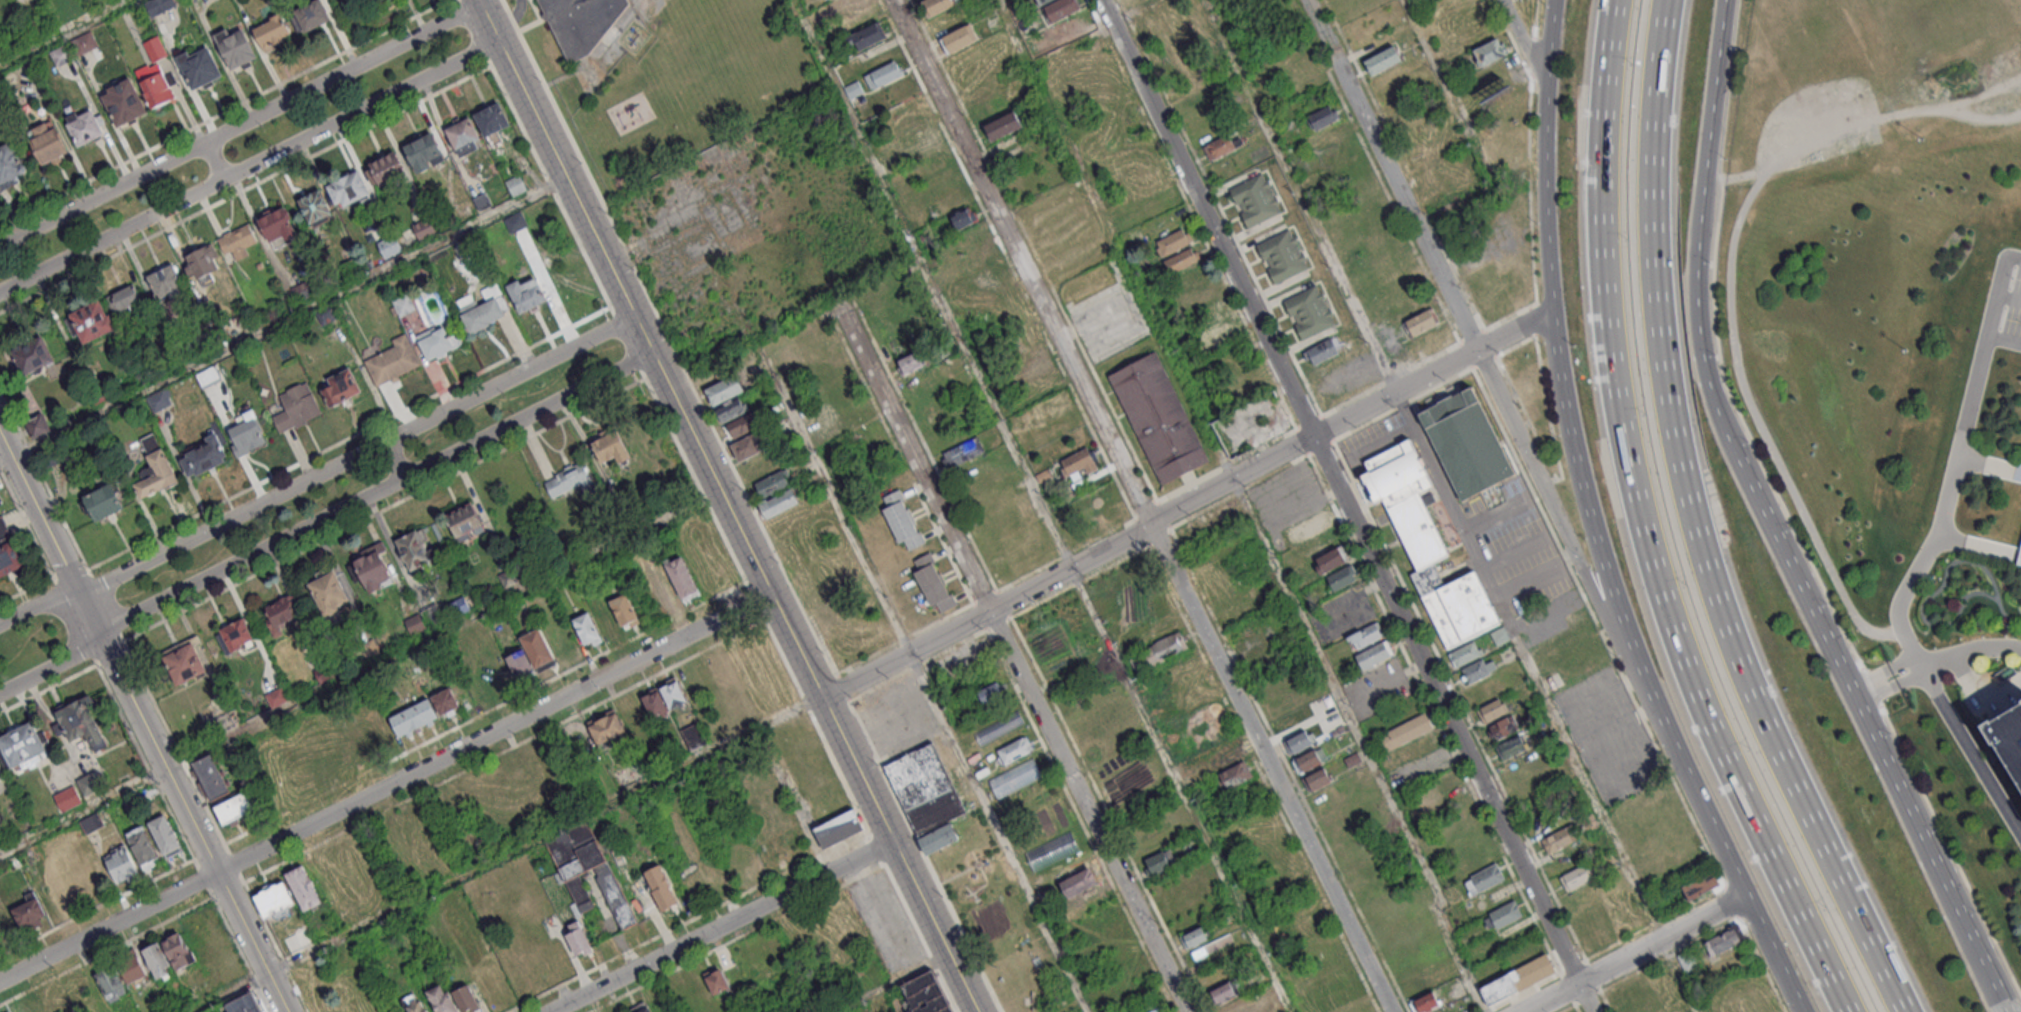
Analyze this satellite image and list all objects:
building: (1042, 1)
building: (158, 5)
building: (845, 5)
building: (937, 6)
building: (1060, 8)
building: (312, 13)
building: (583, 23)
building: (272, 30)
road: (65, 33)
building: (866, 35)
building: (958, 38)
building: (85, 40)
building: (234, 45)
road: (1523, 46)
building: (154, 48)
building: (1489, 51)
building: (1382, 60)
road: (1234, 64)
building: (198, 65)
building: (884, 74)
building: (155, 84)
building: (854, 89)
building: (123, 102)
building: (994, 108)
building: (905, 111)
building: (1321, 116)
building: (492, 118)
road: (239, 124)
building: (1002, 125)
building: (84, 127)
road: (1471, 132)
building: (463, 133)
building: (1331, 136)
road: (1829, 137)
building: (925, 144)
building: (50, 145)
building: (1223, 145)
building: (425, 151)
road: (214, 160)
building: (934, 161)
building: (9, 162)
road: (249, 165)
building: (387, 167)
building: (1439, 171)
road: (1394, 175)
building: (941, 181)
building: (515, 184)
building: (348, 188)
building: (1256, 200)
building: (482, 201)
building: (315, 206)
building: (963, 217)
building: (276, 224)
building: (425, 228)
building: (236, 239)
building: (1172, 240)
building: (390, 246)
building: (980, 255)
building: (1282, 256)
building: (1182, 259)
road: (1331, 260)
building: (204, 261)
building: (991, 273)
building: (165, 278)
building: (302, 290)
road: (2002, 293)
building: (527, 294)
building: (126, 296)
road: (2011, 297)
building: (403, 303)
parking lot: (2003, 303)
building: (326, 313)
building: (1309, 313)
building: (482, 314)
building: (91, 320)
road: (285, 321)
building: (1422, 322)
building: (1217, 337)
building: (433, 340)
road: (2006, 341)
road: (1556, 343)
building: (1323, 350)
building: (32, 355)
building: (392, 360)
building: (910, 362)
building: (1033, 367)
road: (1433, 372)
building: (208, 375)
building: (341, 386)
building: (726, 389)
road: (1713, 398)
building: (159, 399)
building: (296, 407)
building: (731, 409)
building: (1158, 417)
road: (1759, 424)
building: (742, 426)
building: (248, 432)
building: (1467, 442)
building: (750, 445)
building: (611, 447)
building: (963, 451)
building: (204, 455)
road: (398, 456)
road: (1220, 457)
building: (1082, 460)
road: (318, 473)
building: (157, 474)
building: (568, 480)
building: (771, 482)
building: (103, 500)
building: (1405, 500)
building: (777, 502)
road: (1349, 504)
road: (1042, 505)
road: (1312, 505)
road: (726, 506)
road: (1141, 507)
parking lot: (1292, 508)
road: (1554, 515)
road: (323, 517)
building: (901, 518)
building: (464, 520)
road: (1151, 521)
road: (1695, 524)
building: (1309, 525)
road: (1644, 525)
road: (1467, 531)
building: (7, 549)
building: (413, 549)
building: (2019, 556)
parking lot: (2019, 556)
building: (1331, 559)
building: (373, 570)
building: (510, 576)
building: (681, 577)
building: (1339, 578)
building: (933, 584)
building: (662, 587)
building: (328, 591)
road: (1907, 593)
road: (1357, 595)
building: (1456, 605)
building: (457, 606)
building: (1560, 606)
building: (284, 609)
building: (624, 609)
building: (829, 616)
building: (604, 618)
building: (1525, 620)
building: (414, 623)
building: (586, 627)
building: (237, 634)
building: (1364, 634)
building: (1500, 637)
building: (1168, 643)
building: (537, 647)
road: (905, 654)
building: (1375, 654)
building: (1466, 655)
road: (1012, 659)
road: (1935, 661)
building: (185, 662)
building: (520, 663)
building: (1478, 671)
building: (324, 672)
road: (360, 672)
road: (1396, 677)
road: (923, 678)
building: (991, 692)
building: (674, 694)
building: (276, 696)
building: (445, 700)
building: (654, 702)
building: (1491, 709)
road: (1433, 712)
building: (414, 716)
parking lot: (897, 718)
building: (83, 721)
road: (144, 724)
building: (1501, 726)
building: (381, 727)
building: (998, 727)
building: (607, 728)
building: (1406, 732)
building: (2008, 735)
building: (694, 736)
parking lot: (1610, 736)
building: (1297, 743)
building: (22, 744)
building: (1513, 747)
building: (1015, 749)
building: (1225, 757)
building: (318, 759)
building: (1307, 762)
building: (1236, 774)
building: (211, 777)
building: (1015, 777)
building: (820, 780)
building: (1316, 780)
building: (90, 783)
road: (1692, 786)
road: (385, 787)
building: (925, 789)
building: (142, 795)
building: (68, 798)
building: (235, 806)
road: (1602, 817)
building: (89, 823)
building: (837, 829)
building: (165, 835)
building: (939, 837)
building: (1559, 837)
building: (143, 846)
building: (575, 850)
road: (506, 854)
building: (1475, 860)
building: (1158, 862)
building: (121, 863)
building: (1575, 876)
building: (327, 877)
building: (1487, 877)
building: (1080, 880)
building: (1699, 885)
road: (1946, 886)
building: (303, 887)
building: (661, 887)
building: (580, 894)
building: (614, 895)
building: (273, 899)
building: (29, 909)
building: (1505, 914)
crop: (1002, 925)
road: (722, 927)
building: (303, 935)
building: (1194, 936)
building: (1724, 939)
building: (578, 941)
building: (178, 952)
road: (1634, 954)
road: (1771, 954)
building: (157, 960)
road: (1463, 962)
building: (131, 965)
building: (1518, 979)
building: (717, 982)
building: (110, 983)
building: (1416, 984)
road: (886, 987)
road: (1522, 991)
building: (1224, 992)
building: (925, 994)
building: (465, 998)
building: (440, 999)
building: (1425, 1001)
building: (244, 1004)
building: (416, 1007)
building: (1234, 1007)
building: (645, 1010)

